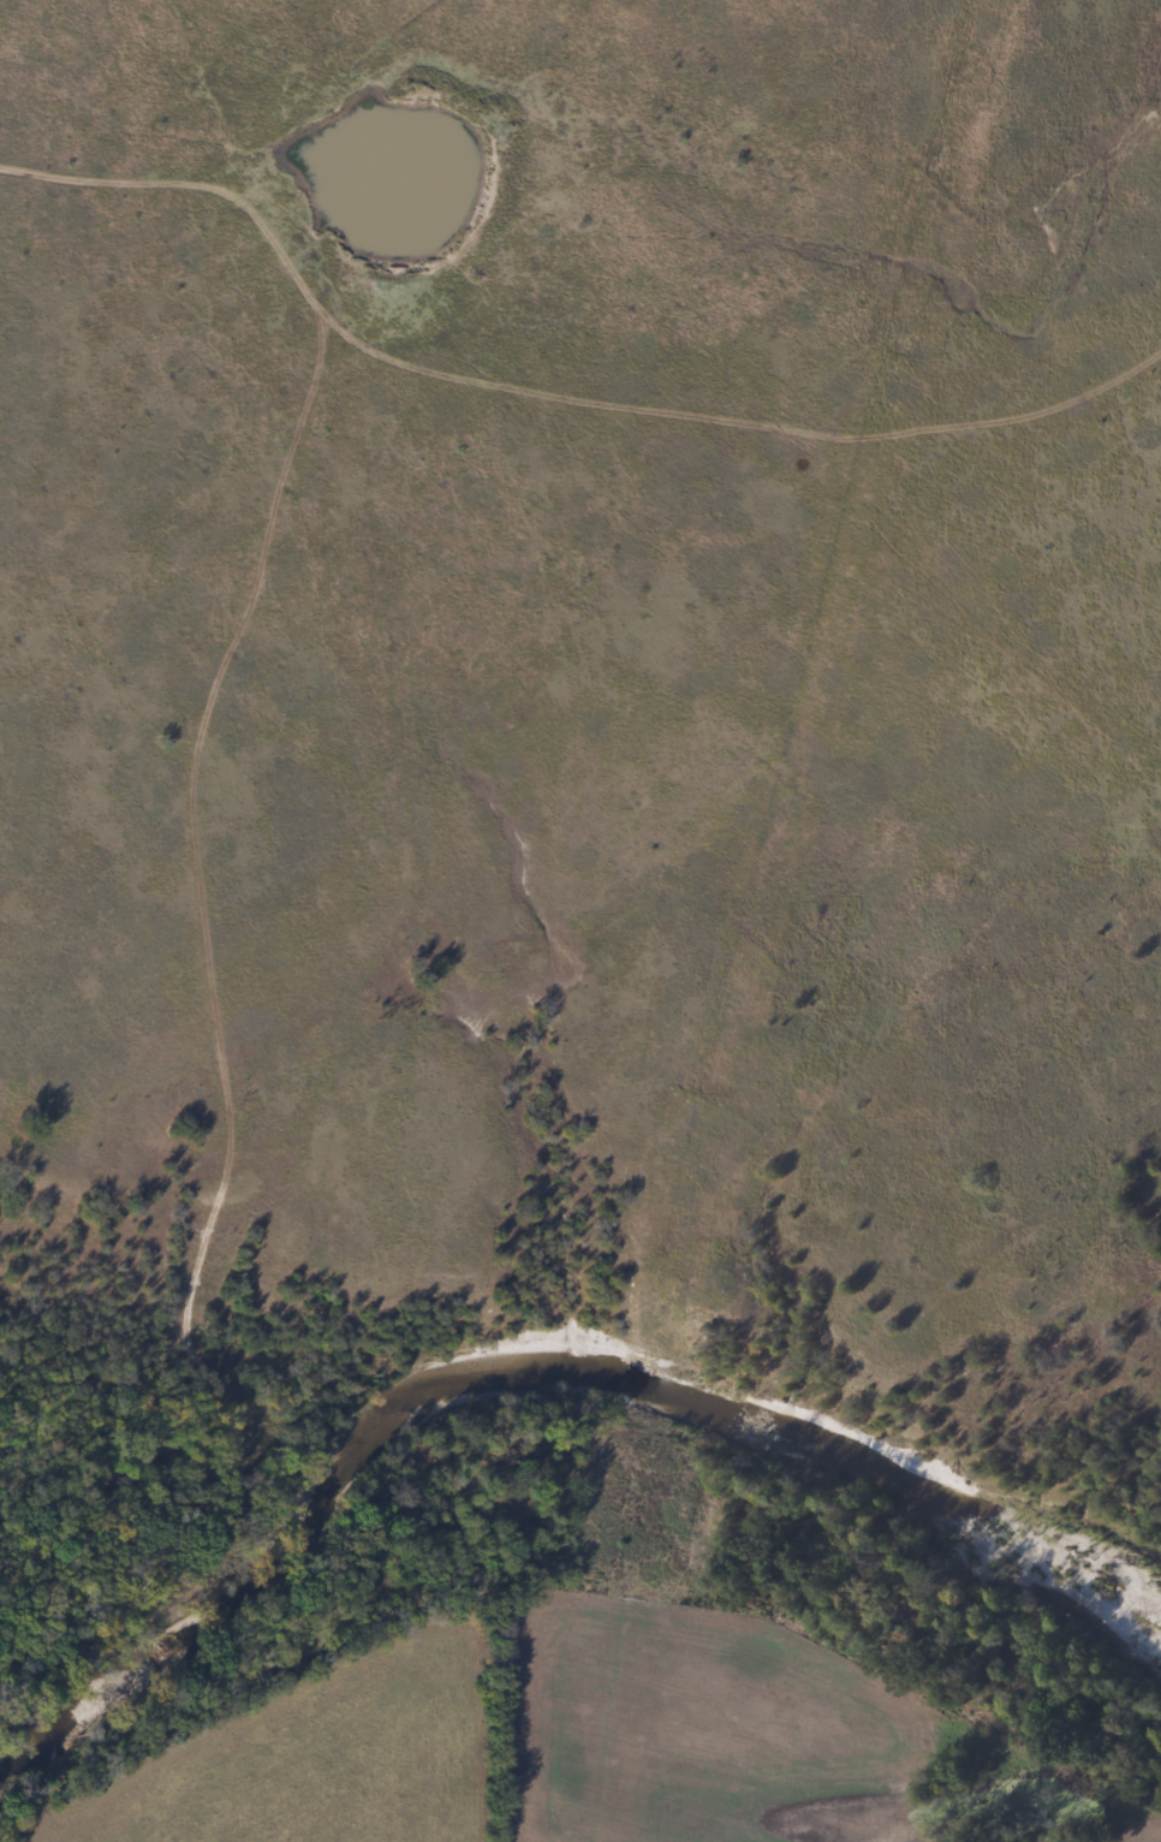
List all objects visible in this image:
river: (541, 1372)

